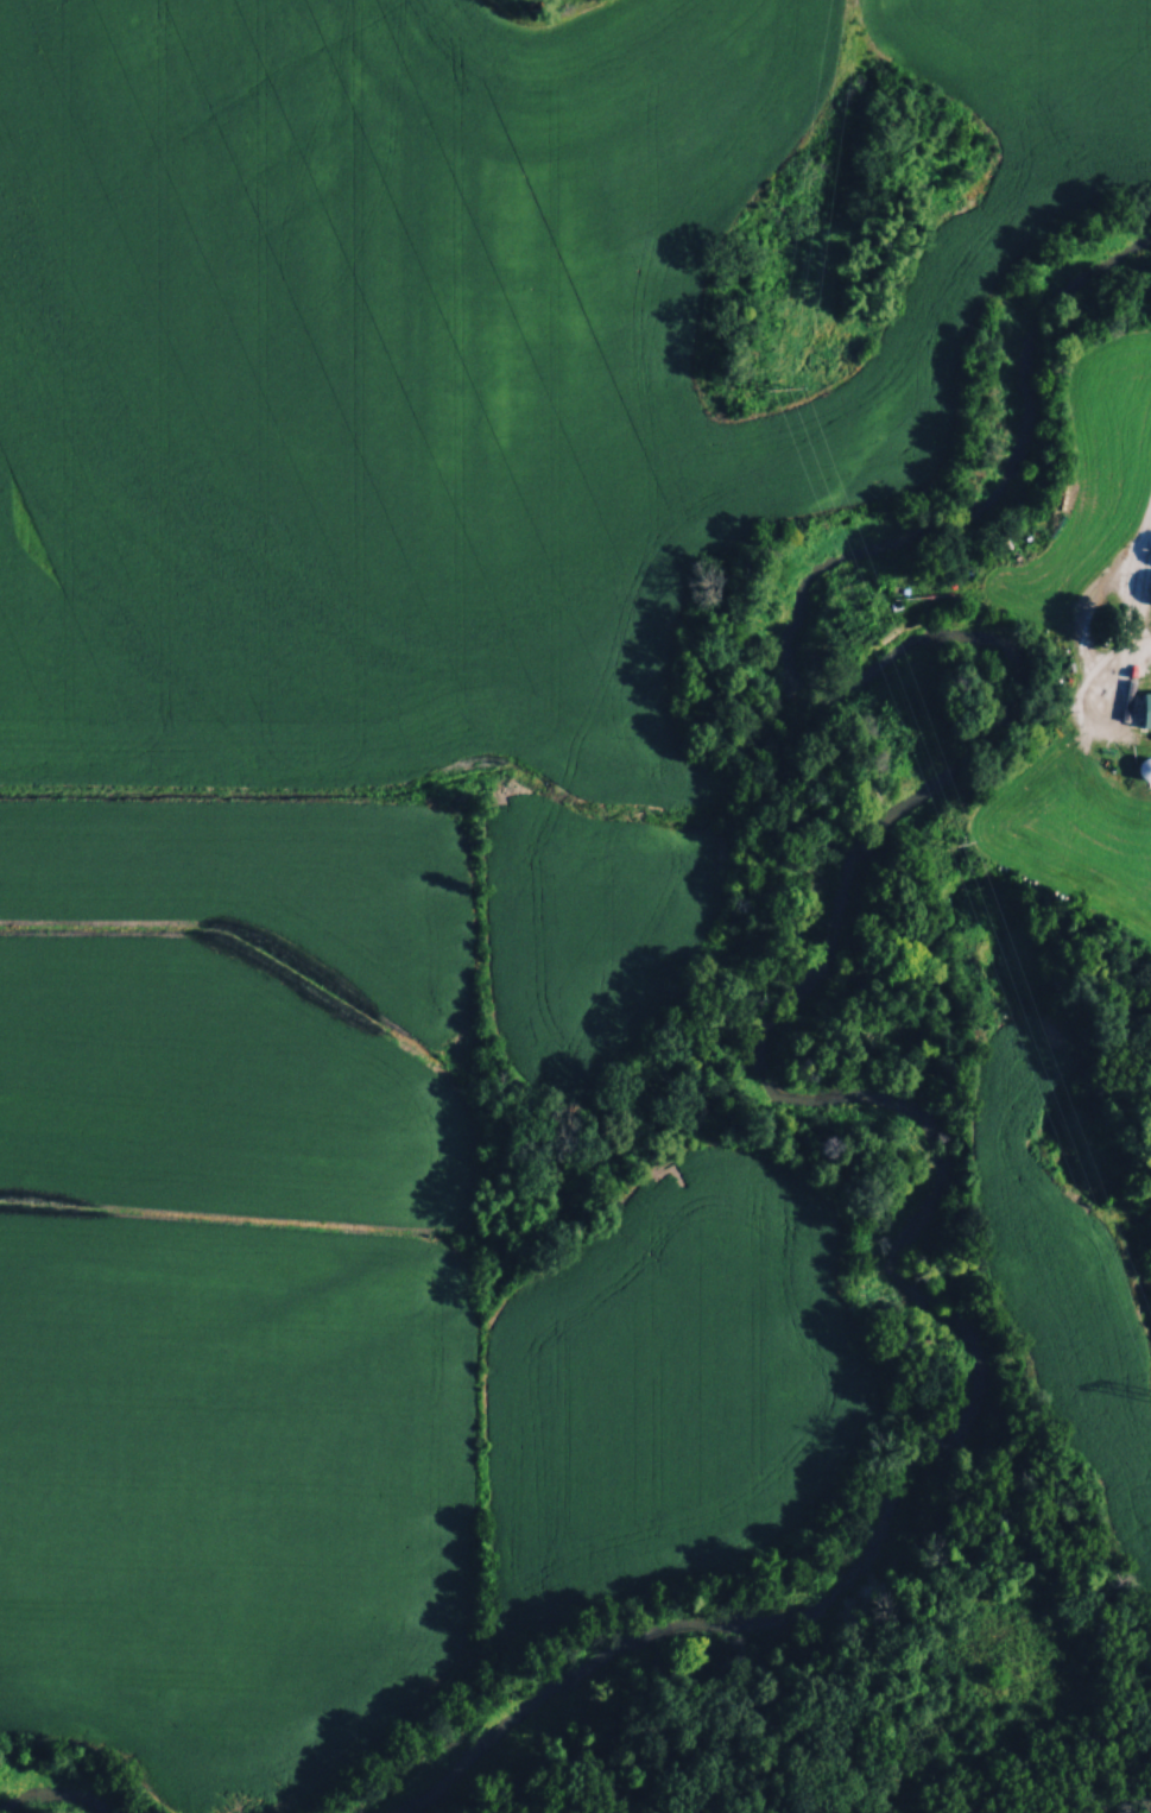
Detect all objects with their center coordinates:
power tower: (783, 384)
road: (1132, 618)
building: (1141, 655)
building: (1087, 697)
building: (1145, 766)
building: (1111, 772)
power tower: (944, 841)

